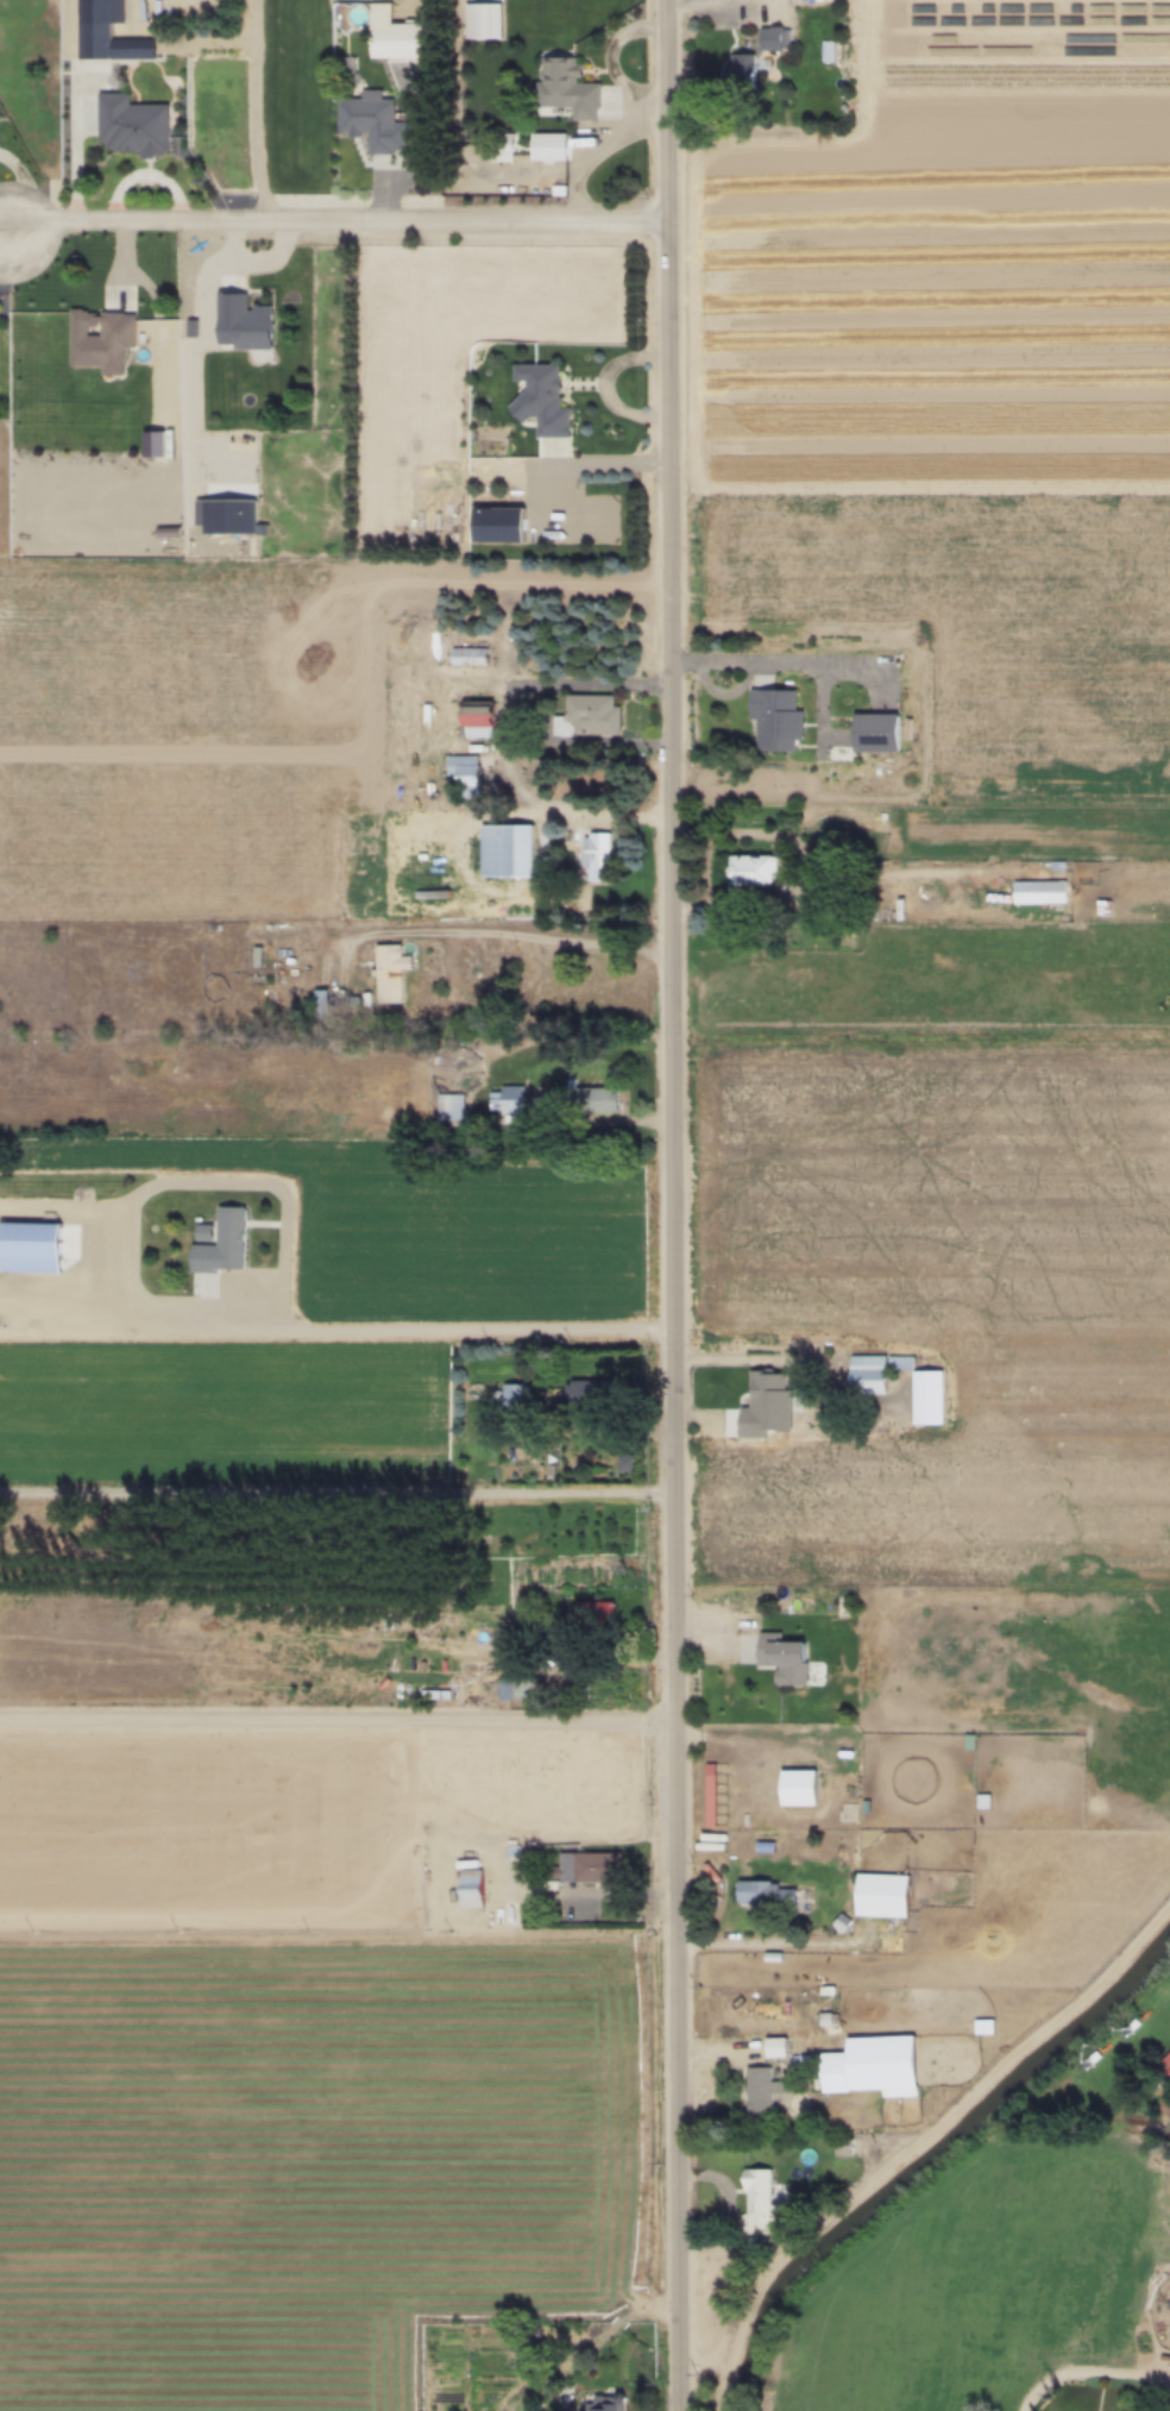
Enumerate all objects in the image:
building: (480, 19)
building: (93, 31)
building: (391, 33)
building: (773, 38)
building: (738, 69)
building: (565, 87)
road: (254, 112)
building: (372, 121)
building: (131, 124)
building: (547, 145)
building: (498, 146)
road: (334, 224)
building: (241, 320)
building: (99, 338)
building: (540, 398)
building: (229, 517)
building: (493, 522)
building: (466, 655)
road: (761, 661)
road: (586, 687)
building: (586, 715)
building: (474, 717)
building: (774, 717)
building: (874, 732)
building: (459, 766)
road: (598, 808)
building: (504, 849)
building: (597, 855)
building: (748, 869)
road: (812, 874)
building: (1038, 891)
road: (493, 936)
building: (388, 972)
building: (596, 1099)
building: (504, 1100)
building: (448, 1109)
road: (272, 1183)
road: (672, 1205)
road: (114, 1207)
building: (220, 1243)
building: (27, 1248)
road: (58, 1312)
road: (396, 1337)
road: (763, 1364)
building: (583, 1393)
building: (511, 1395)
building: (591, 1612)
building: (780, 1658)
building: (516, 1688)
building: (807, 1851)
building: (584, 1866)
building: (468, 1888)
building: (765, 1892)
building: (879, 1894)
building: (508, 1913)
road: (767, 1944)
building: (982, 2026)
building: (774, 2046)
building: (872, 2065)
building: (1163, 2072)
building: (756, 2089)
building: (1163, 2105)
road: (920, 2145)
building: (842, 2147)
building: (756, 2192)
building: (602, 2403)

